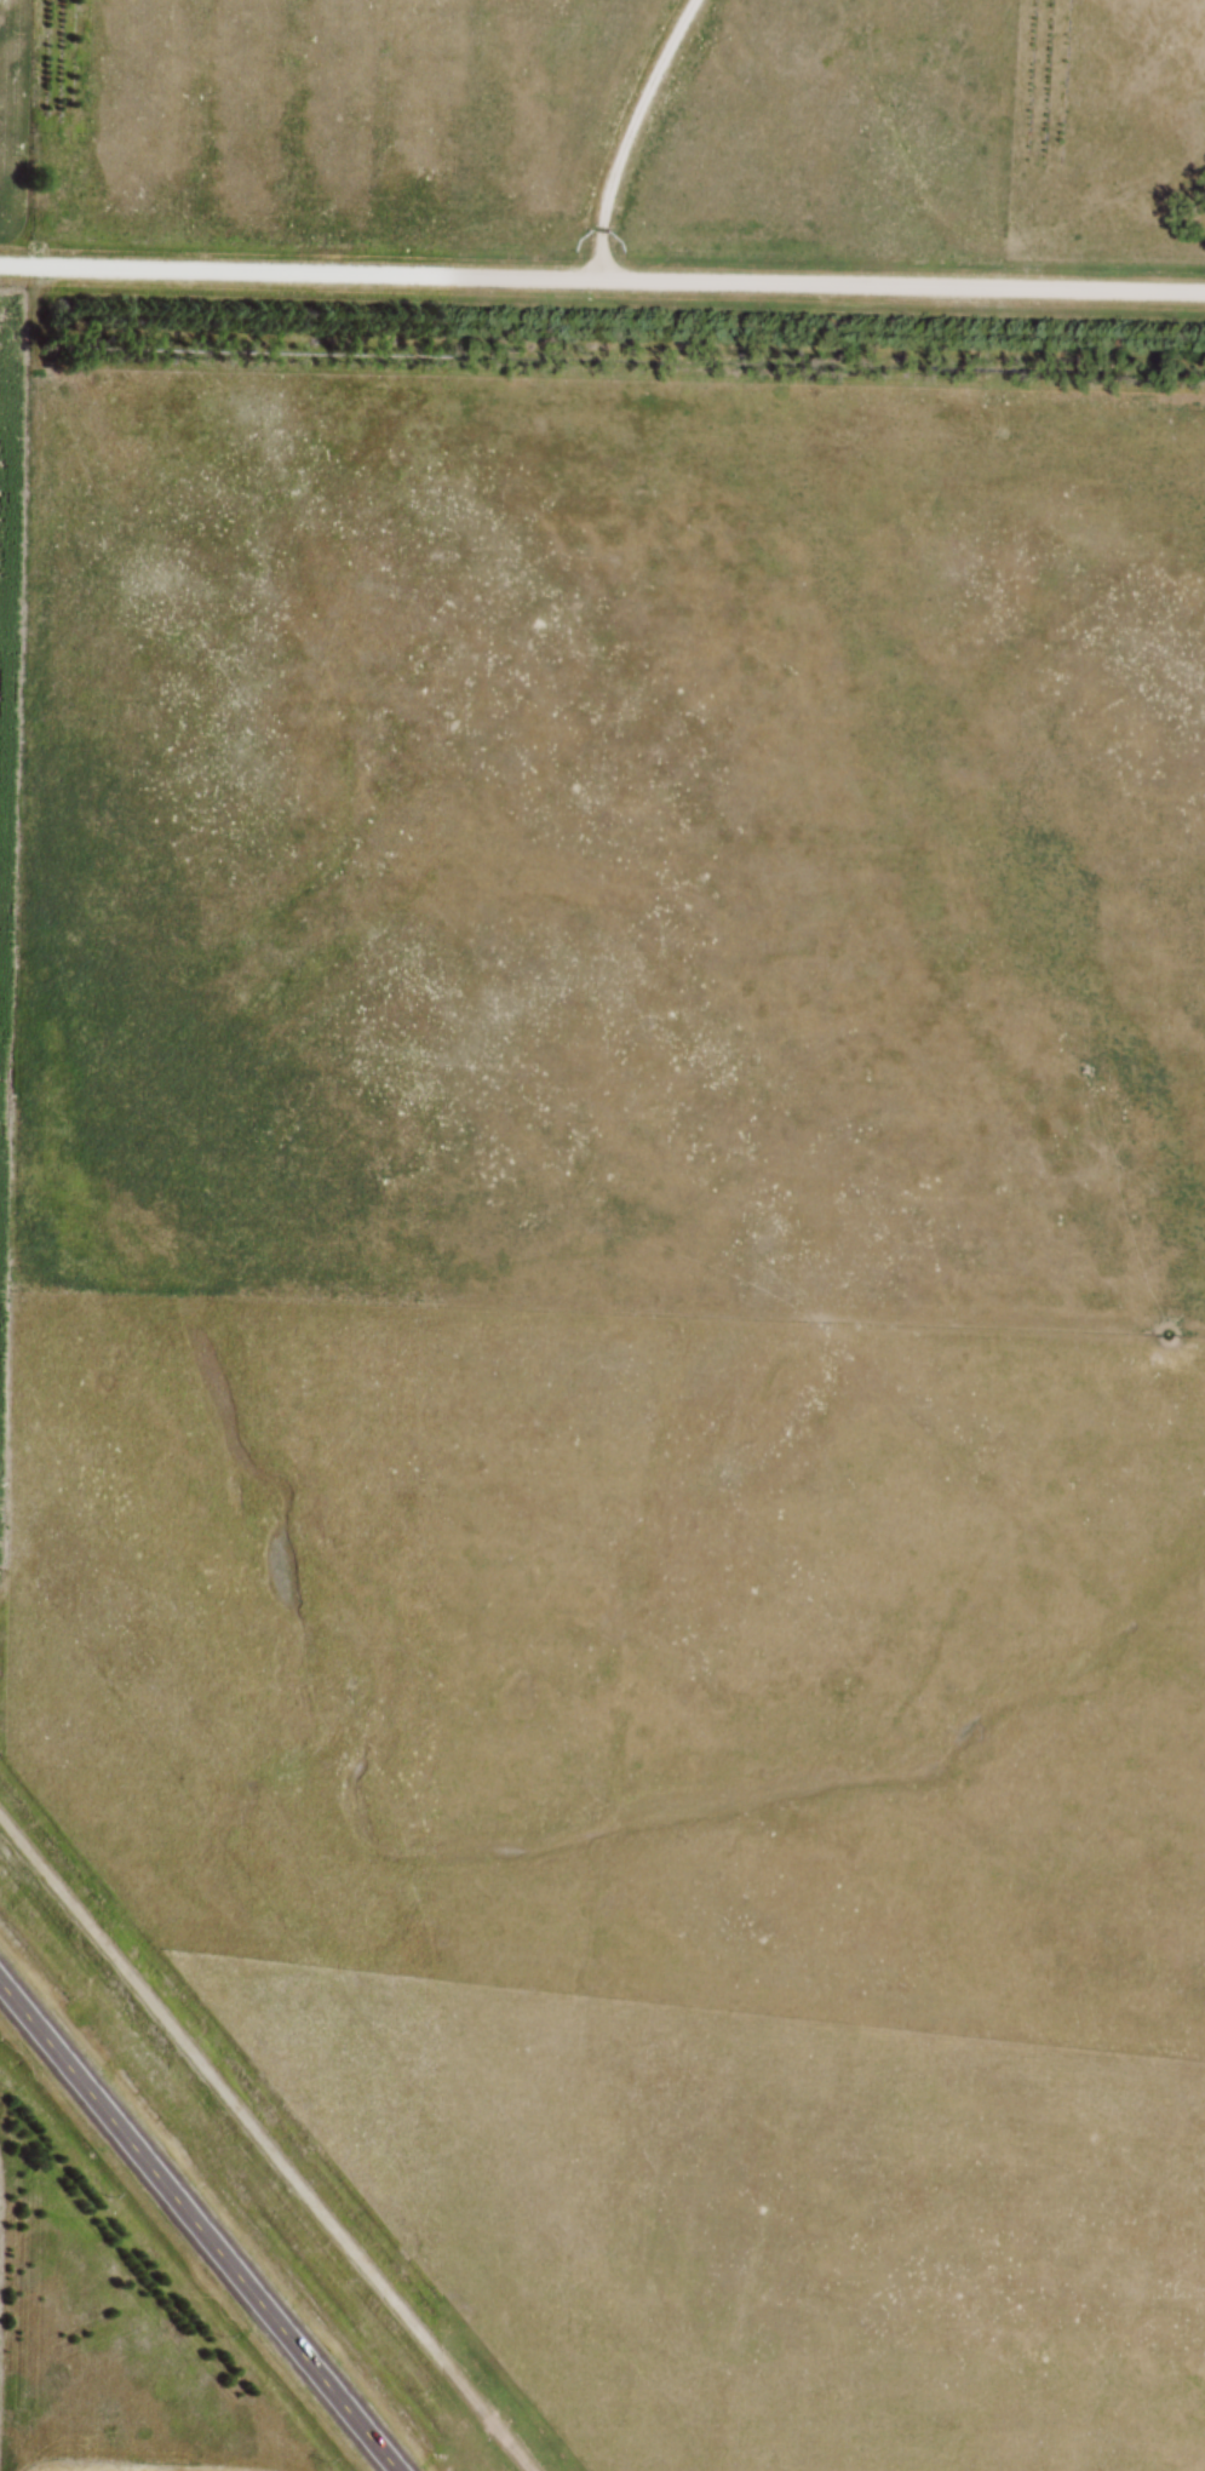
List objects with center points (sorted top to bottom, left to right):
road: (624, 133)
road: (602, 280)
road: (270, 2138)
road: (200, 2224)

